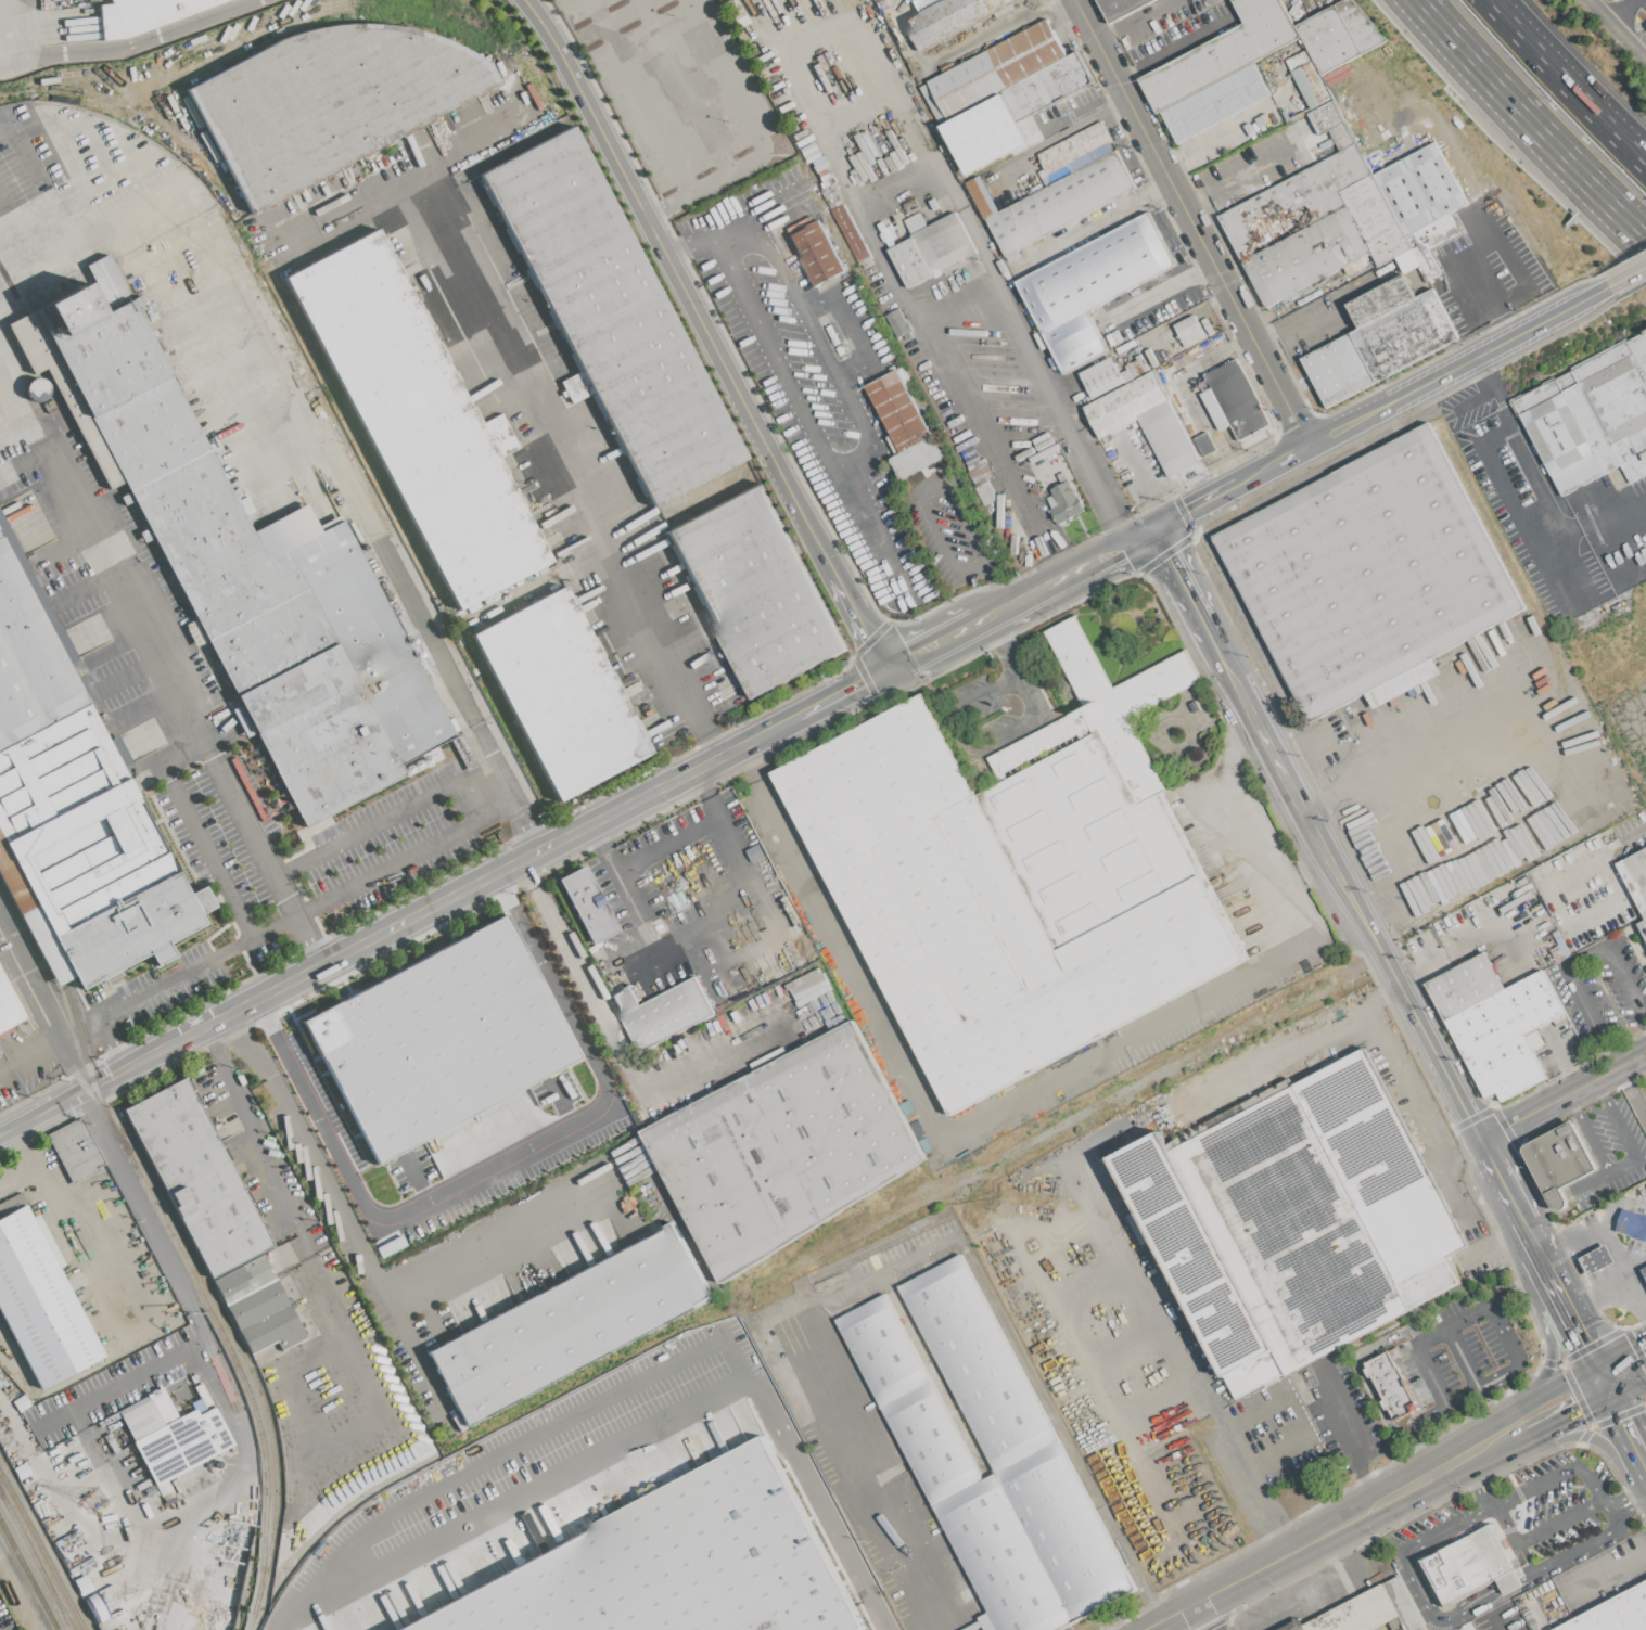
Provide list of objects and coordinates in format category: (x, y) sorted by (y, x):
building: (924, 4)
road: (17, 5)
building: (1121, 8)
building: (1004, 11)
road: (1620, 11)
building: (145, 14)
road: (1600, 15)
road: (1135, 18)
building: (950, 20)
road: (811, 21)
building: (1360, 25)
building: (1328, 39)
road: (131, 44)
road: (1631, 48)
road: (4, 49)
road: (1171, 49)
road: (953, 52)
building: (1224, 53)
building: (1381, 57)
building: (1299, 60)
building: (996, 69)
building: (1066, 76)
road: (1566, 84)
building: (1311, 85)
road: (682, 86)
road: (639, 95)
building: (1028, 95)
building: (330, 102)
building: (933, 103)
building: (1215, 103)
road: (1061, 116)
building: (1326, 117)
building: (985, 119)
building: (1362, 119)
road: (1530, 120)
road: (754, 134)
building: (800, 136)
road: (1220, 136)
building: (1342, 136)
building: (804, 142)
building: (1074, 147)
road: (64, 150)
building: (1327, 151)
building: (809, 153)
building: (1373, 157)
building: (819, 164)
building: (1377, 167)
building: (978, 169)
building: (998, 169)
road: (1249, 169)
building: (825, 175)
building: (1052, 175)
building: (1436, 181)
road: (1488, 189)
building: (1073, 196)
building: (1404, 196)
building: (981, 197)
road: (1195, 197)
road: (773, 200)
building: (1294, 203)
building: (781, 207)
road: (345, 213)
building: (1375, 219)
road: (730, 220)
road: (23, 221)
road: (1194, 222)
building: (915, 223)
building: (1008, 230)
road: (5, 231)
building: (851, 234)
building: (1433, 234)
road: (688, 241)
building: (944, 243)
building: (817, 253)
building: (1012, 256)
building: (1306, 256)
building: (1407, 260)
building: (910, 262)
building: (1429, 264)
building: (1355, 265)
road: (1202, 270)
building: (1095, 272)
road: (1625, 277)
road: (1478, 279)
building: (107, 283)
road: (681, 284)
railway: (10, 286)
road: (1148, 298)
building: (1381, 300)
building: (68, 312)
building: (612, 318)
building: (1430, 321)
road: (1501, 322)
building: (897, 323)
road: (1298, 329)
building: (1190, 331)
building: (1404, 335)
building: (1075, 341)
building: (1377, 349)
building: (1157, 352)
building: (110, 358)
building: (1151, 358)
building: (1143, 363)
building: (1351, 363)
road: (1458, 368)
building: (1136, 369)
building: (1127, 376)
building: (1327, 376)
building: (1101, 380)
road: (1039, 385)
building: (61, 388)
road: (1471, 397)
building: (1237, 400)
road: (527, 403)
building: (1124, 405)
building: (49, 407)
road: (293, 408)
building: (898, 411)
building: (1592, 418)
building: (417, 421)
building: (1136, 432)
building: (149, 433)
building: (1167, 438)
building: (1145, 445)
road: (1293, 454)
building: (916, 458)
road: (850, 459)
road: (1258, 473)
building: (979, 477)
building: (1144, 479)
road: (1541, 480)
road: (915, 492)
road: (1505, 492)
building: (1064, 502)
road: (1195, 506)
traffic signals: (1152, 529)
building: (298, 540)
building: (208, 547)
road: (1086, 563)
building: (1369, 570)
road: (1175, 572)
road: (996, 582)
building: (756, 591)
building: (39, 596)
road: (998, 608)
road: (859, 620)
building: (267, 642)
road: (930, 645)
building: (374, 652)
road: (165, 663)
road: (1011, 666)
traffic signals: (885, 669)
building: (1401, 682)
building: (292, 690)
road: (842, 692)
building: (561, 693)
building: (1101, 706)
road: (777, 727)
road: (960, 730)
building: (329, 754)
road: (1284, 773)
road: (672, 783)
road: (1353, 786)
road: (507, 787)
road: (495, 813)
building: (75, 816)
road: (1252, 817)
road: (1621, 838)
road: (663, 842)
road: (528, 874)
building: (1636, 876)
road: (357, 885)
road: (457, 895)
building: (1005, 896)
building: (587, 904)
road: (702, 920)
building: (1643, 927)
road: (1568, 929)
road: (1463, 938)
road: (532, 945)
road: (1570, 959)
road: (30, 977)
road: (149, 989)
building: (626, 1001)
building: (10, 1004)
building: (668, 1015)
building: (1494, 1024)
road: (208, 1027)
road: (61, 1036)
road: (1425, 1036)
building: (438, 1039)
road: (1644, 1060)
road: (1269, 1064)
road: (627, 1065)
road: (4, 1067)
railway: (91, 1071)
road: (1401, 1086)
road: (303, 1088)
road: (1633, 1092)
road: (1562, 1098)
road: (44, 1111)
road: (954, 1135)
road: (1483, 1148)
building: (784, 1150)
building: (75, 1151)
road: (518, 1157)
building: (1557, 1161)
road: (1620, 1167)
road: (16, 1176)
building: (196, 1178)
road: (1588, 1183)
road: (1451, 1188)
road: (85, 1194)
road: (1513, 1204)
building: (3, 1206)
building: (1293, 1220)
building: (1632, 1223)
road: (1594, 1227)
railway: (882, 1247)
road: (916, 1255)
building: (1598, 1259)
building: (1645, 1270)
road: (1549, 1275)
road: (1635, 1276)
road: (1141, 1284)
road: (1519, 1288)
road: (381, 1292)
road: (1607, 1294)
railway: (207, 1301)
building: (40, 1302)
building: (258, 1307)
building: (570, 1323)
road: (343, 1331)
road: (1579, 1331)
road: (1421, 1338)
traffic signals: (1584, 1342)
traffic signals: (1636, 1343)
road: (193, 1346)
road: (1548, 1347)
road: (1621, 1350)
railway: (245, 1356)
road: (1463, 1357)
road: (1360, 1365)
road: (422, 1368)
road: (82, 1371)
road: (1511, 1371)
road: (1605, 1378)
building: (1390, 1384)
road: (1556, 1385)
road: (1630, 1385)
building: (64, 1399)
building: (163, 1407)
traffic signals: (1578, 1411)
road: (1567, 1415)
traffic signals: (1625, 1417)
building: (140, 1419)
road: (1505, 1423)
road: (1629, 1424)
road: (1336, 1427)
road: (1415, 1433)
road: (1590, 1434)
road: (1507, 1438)
road: (639, 1439)
building: (181, 1445)
road: (512, 1452)
building: (988, 1456)
road: (250, 1471)
road: (1433, 1471)
road: (1473, 1471)
road: (1555, 1476)
road: (1249, 1481)
road: (1365, 1487)
road: (1488, 1497)
road: (1638, 1497)
road: (1612, 1500)
building: (47, 1501)
power tower: (94, 1505)
road: (1624, 1507)
road: (1607, 1510)
road: (1476, 1515)
building: (52, 1517)
building: (59, 1528)
road: (1536, 1535)
road: (1580, 1546)
railway: (42, 1550)
building: (82, 1555)
road: (1330, 1557)
railway: (36, 1560)
building: (1470, 1565)
road: (1261, 1567)
building: (669, 1568)
road: (1610, 1573)
railway: (28, 1575)
building: (98, 1584)
road: (1315, 1596)
road: (1429, 1606)
building: (1369, 1612)
building: (1613, 1613)
road: (1200, 1616)
road: (1500, 1625)

